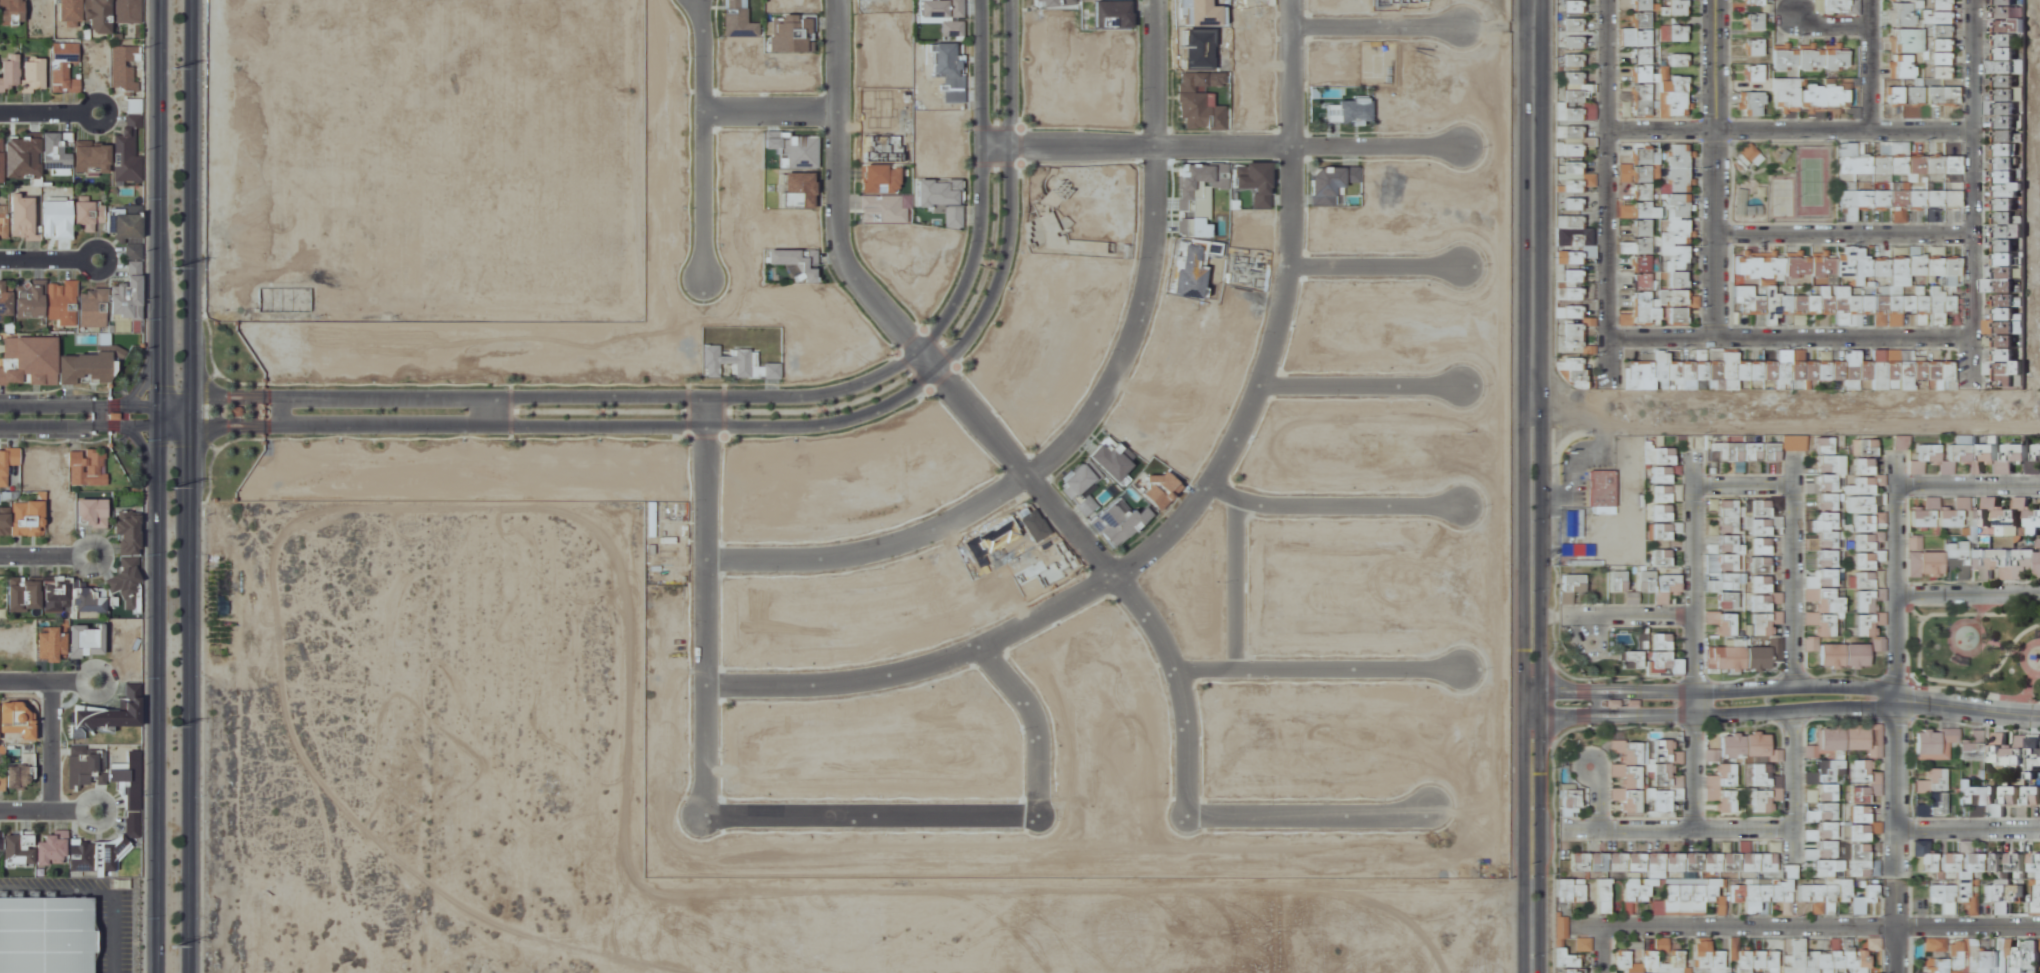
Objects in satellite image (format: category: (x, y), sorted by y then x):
park: (1813, 182)
park: (1976, 648)

